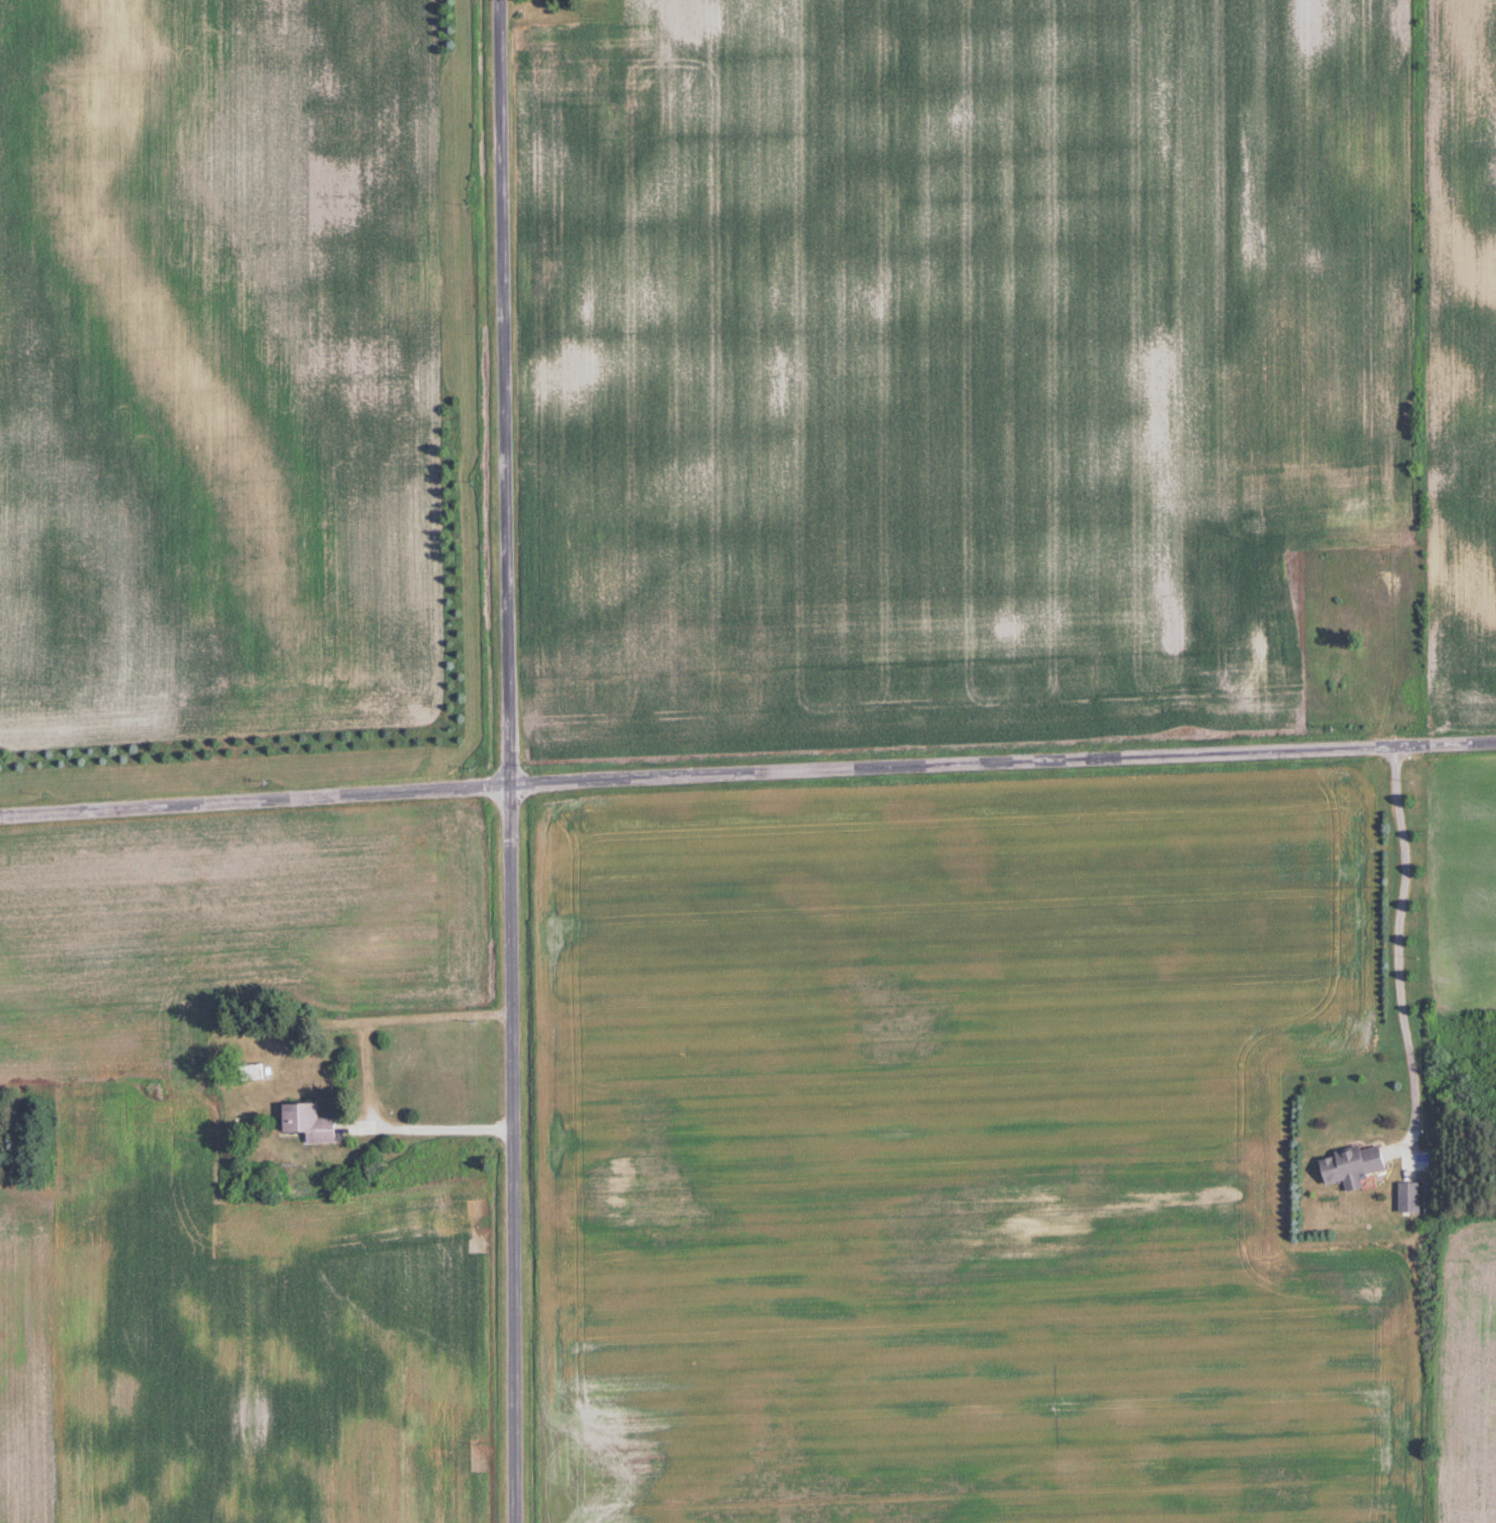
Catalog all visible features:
road: (510, 761)
road: (747, 772)
road: (1392, 949)
road: (433, 1110)
building: (315, 1122)
building: (1348, 1167)

